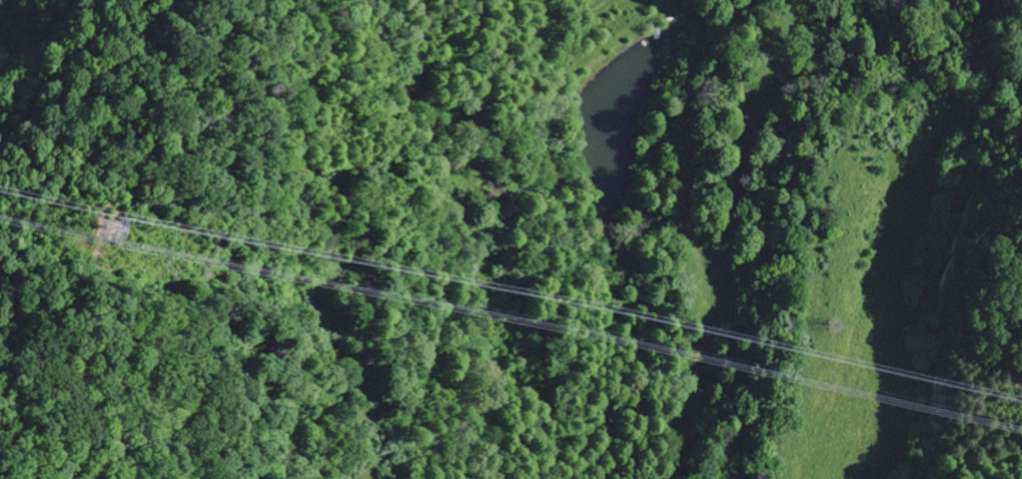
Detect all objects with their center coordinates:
power tower: (104, 228)

